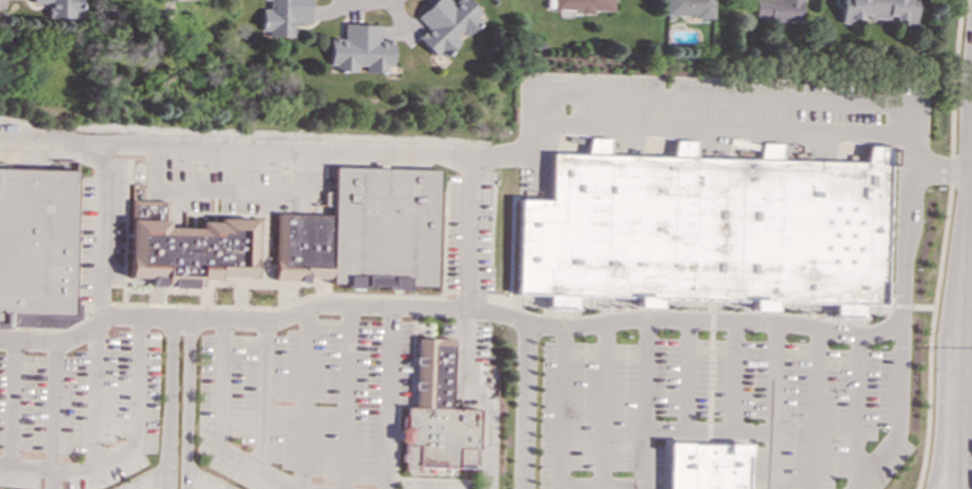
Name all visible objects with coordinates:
road: (362, 2)
building: (584, 5)
building: (62, 8)
building: (689, 8)
building: (778, 10)
building: (878, 10)
building: (283, 17)
building: (446, 24)
building: (360, 49)
parking lot: (748, 100)
road: (723, 128)
road: (520, 159)
road: (939, 169)
parking lot: (220, 171)
road: (228, 190)
building: (706, 230)
parking lot: (103, 231)
road: (102, 232)
building: (364, 232)
parking lot: (468, 234)
road: (468, 234)
road: (941, 244)
building: (188, 247)
road: (968, 247)
building: (37, 249)
road: (449, 310)
road: (898, 335)
parking lot: (467, 342)
road: (940, 363)
road: (686, 375)
road: (733, 376)
road: (170, 390)
road: (263, 396)
road: (95, 397)
road: (347, 398)
road: (390, 398)
road: (483, 398)
road: (304, 399)
road: (188, 403)
road: (604, 403)
road: (12, 404)
parking lot: (305, 404)
road: (644, 404)
road: (525, 405)
road: (774, 405)
road: (971, 407)
parking lot: (614, 409)
road: (814, 409)
parking lot: (816, 411)
road: (856, 412)
parking lot: (80, 413)
building: (437, 415)
road: (52, 416)
road: (220, 427)
road: (709, 431)
road: (560, 447)
road: (128, 448)
building: (707, 466)
road: (167, 475)
road: (148, 476)
road: (206, 479)
parking lot: (437, 485)

